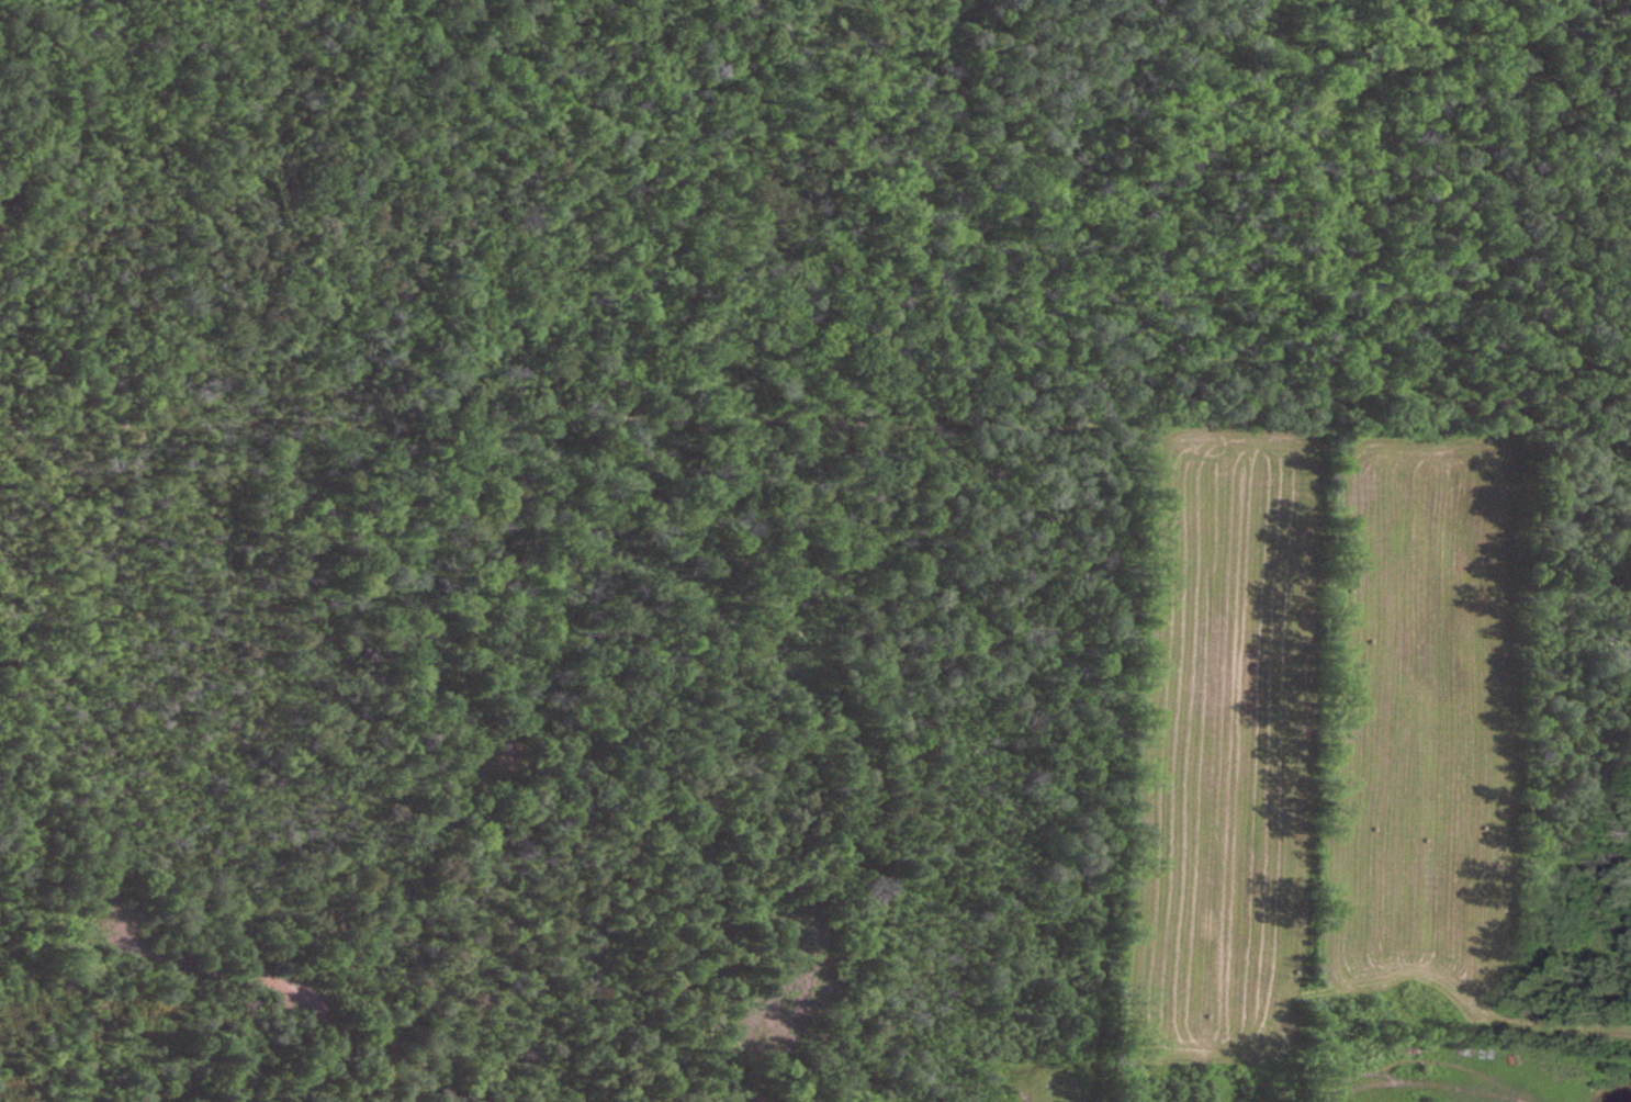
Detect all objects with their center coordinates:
building: (1428, 999)

